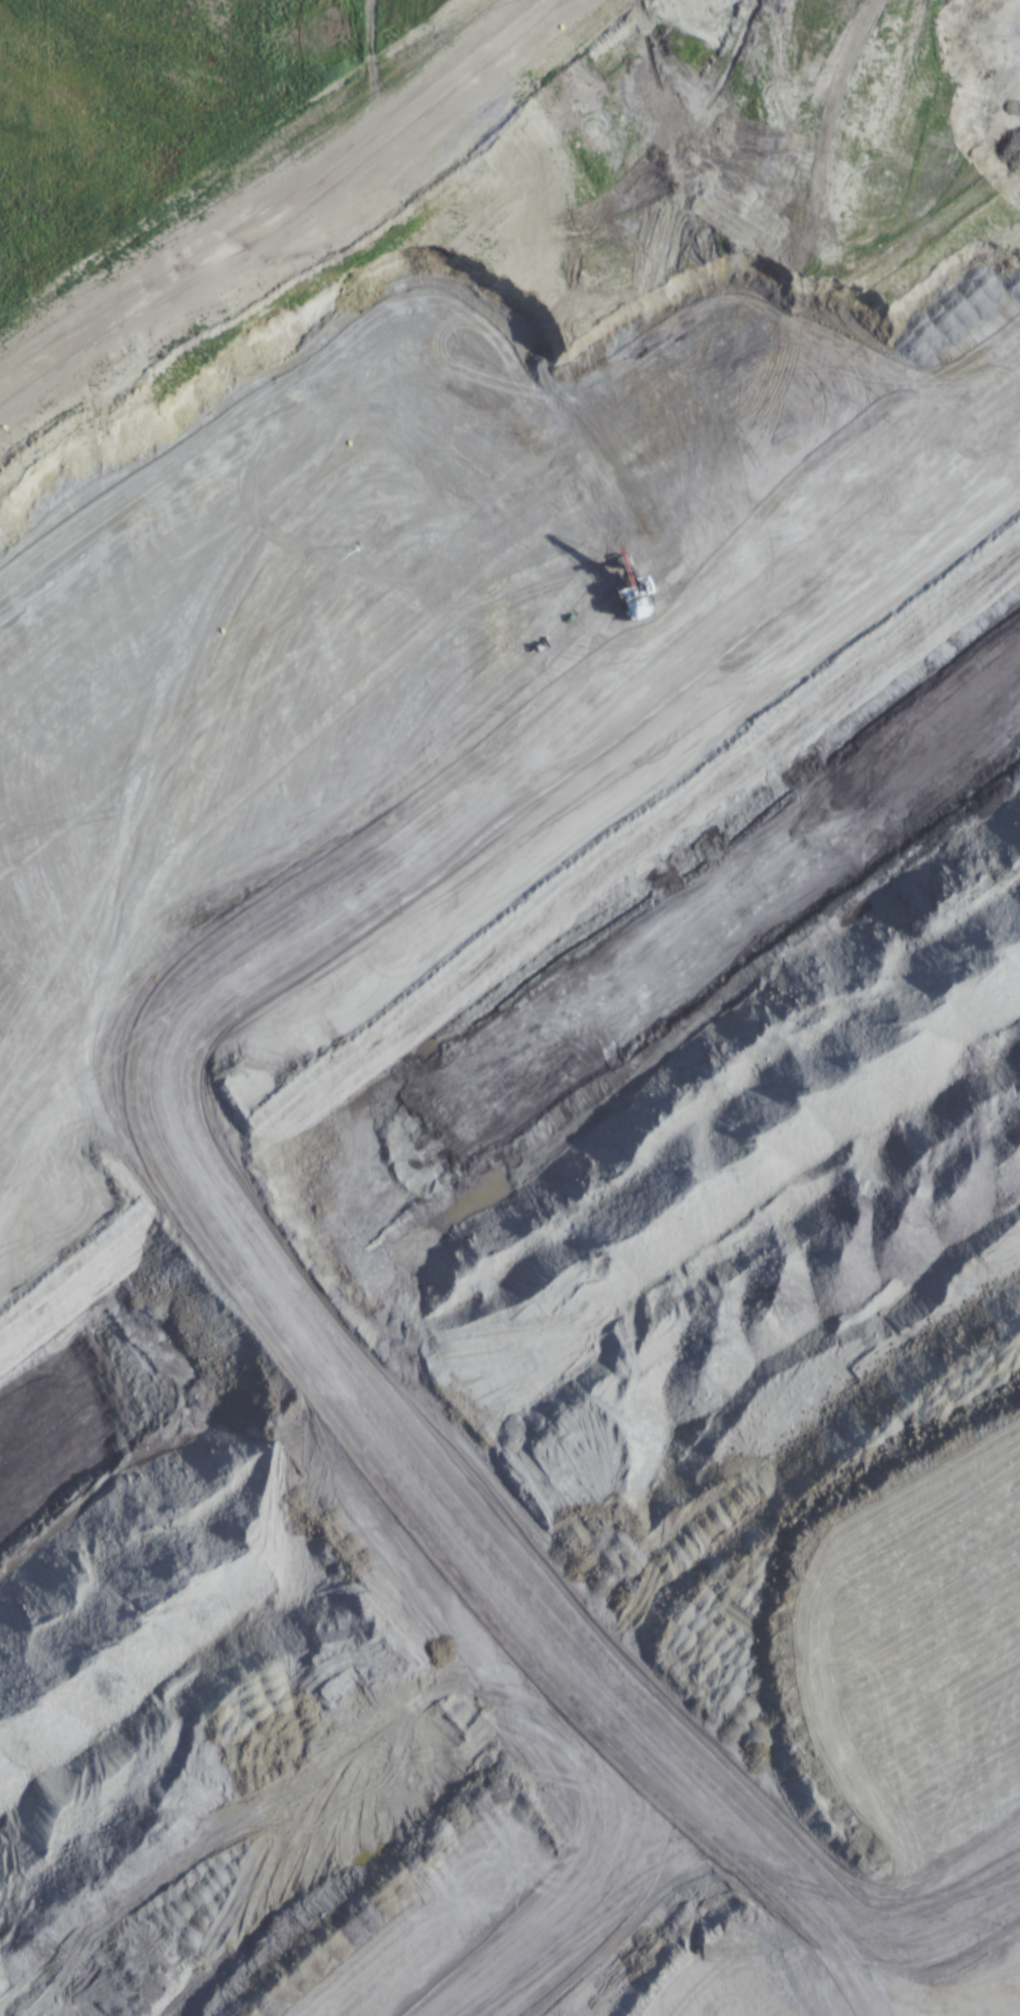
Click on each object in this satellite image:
road: (370, 971)
road: (185, 1942)

